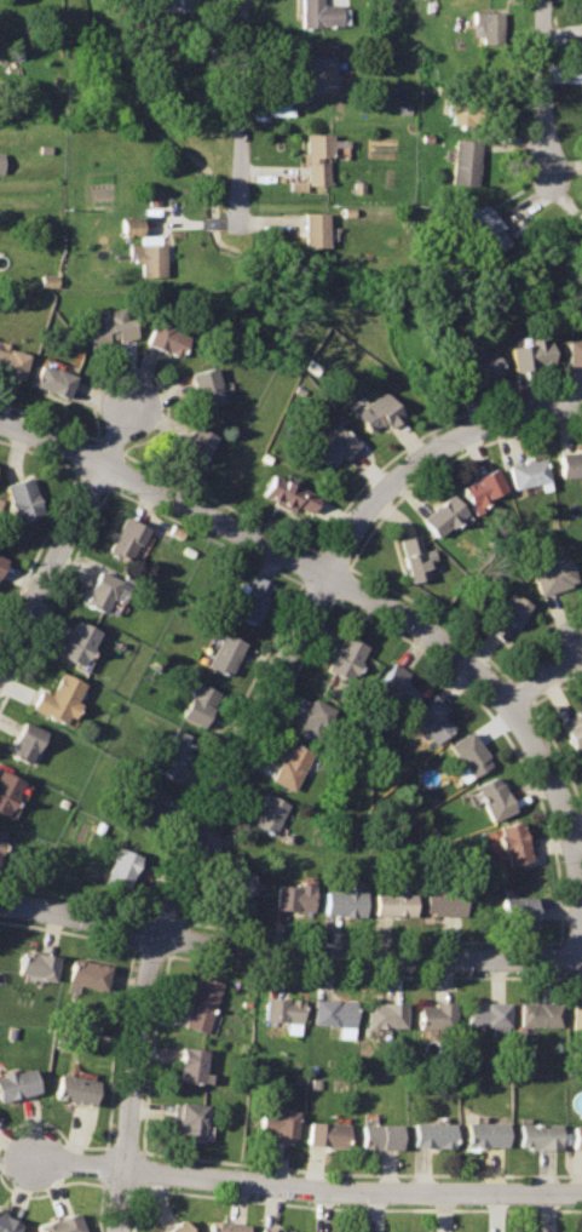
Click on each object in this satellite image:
building: (581, 1)
building: (172, 5)
building: (317, 13)
building: (488, 25)
building: (319, 74)
road: (542, 88)
building: (581, 91)
building: (465, 108)
road: (238, 109)
building: (315, 157)
building: (462, 160)
building: (0, 162)
building: (131, 227)
building: (486, 228)
building: (312, 229)
building: (148, 258)
building: (109, 326)
building: (163, 337)
building: (574, 351)
building: (528, 354)
building: (476, 357)
building: (11, 362)
building: (51, 378)
building: (203, 385)
building: (375, 412)
road: (116, 432)
building: (194, 443)
building: (334, 447)
road: (425, 449)
building: (569, 463)
building: (525, 472)
building: (479, 486)
building: (287, 493)
building: (22, 498)
building: (438, 515)
building: (125, 538)
building: (411, 557)
road: (51, 561)
building: (1, 562)
building: (549, 575)
building: (98, 591)
building: (249, 598)
road: (384, 606)
building: (503, 617)
building: (76, 643)
building: (220, 653)
building: (344, 657)
road: (537, 677)
building: (396, 687)
building: (57, 699)
building: (196, 703)
building: (312, 720)
building: (432, 721)
building: (571, 732)
building: (23, 743)
building: (469, 755)
building: (173, 756)
building: (288, 766)
building: (7, 790)
building: (494, 798)
building: (144, 807)
building: (266, 813)
building: (0, 832)
building: (513, 842)
building: (120, 870)
building: (234, 879)
road: (171, 888)
building: (293, 896)
building: (444, 901)
building: (342, 902)
building: (392, 902)
building: (519, 909)
road: (288, 952)
building: (36, 965)
building: (88, 974)
building: (202, 1003)
building: (283, 1013)
building: (490, 1014)
building: (385, 1015)
building: (541, 1015)
building: (335, 1016)
building: (438, 1016)
building: (577, 1016)
building: (191, 1066)
building: (16, 1083)
building: (75, 1088)
building: (191, 1122)
building: (276, 1123)
building: (484, 1134)
building: (325, 1135)
building: (433, 1135)
building: (538, 1136)
building: (381, 1138)
building: (576, 1138)
road: (307, 1187)
building: (8, 1224)
building: (64, 1225)
building: (178, 1227)
building: (224, 1227)
building: (271, 1230)

